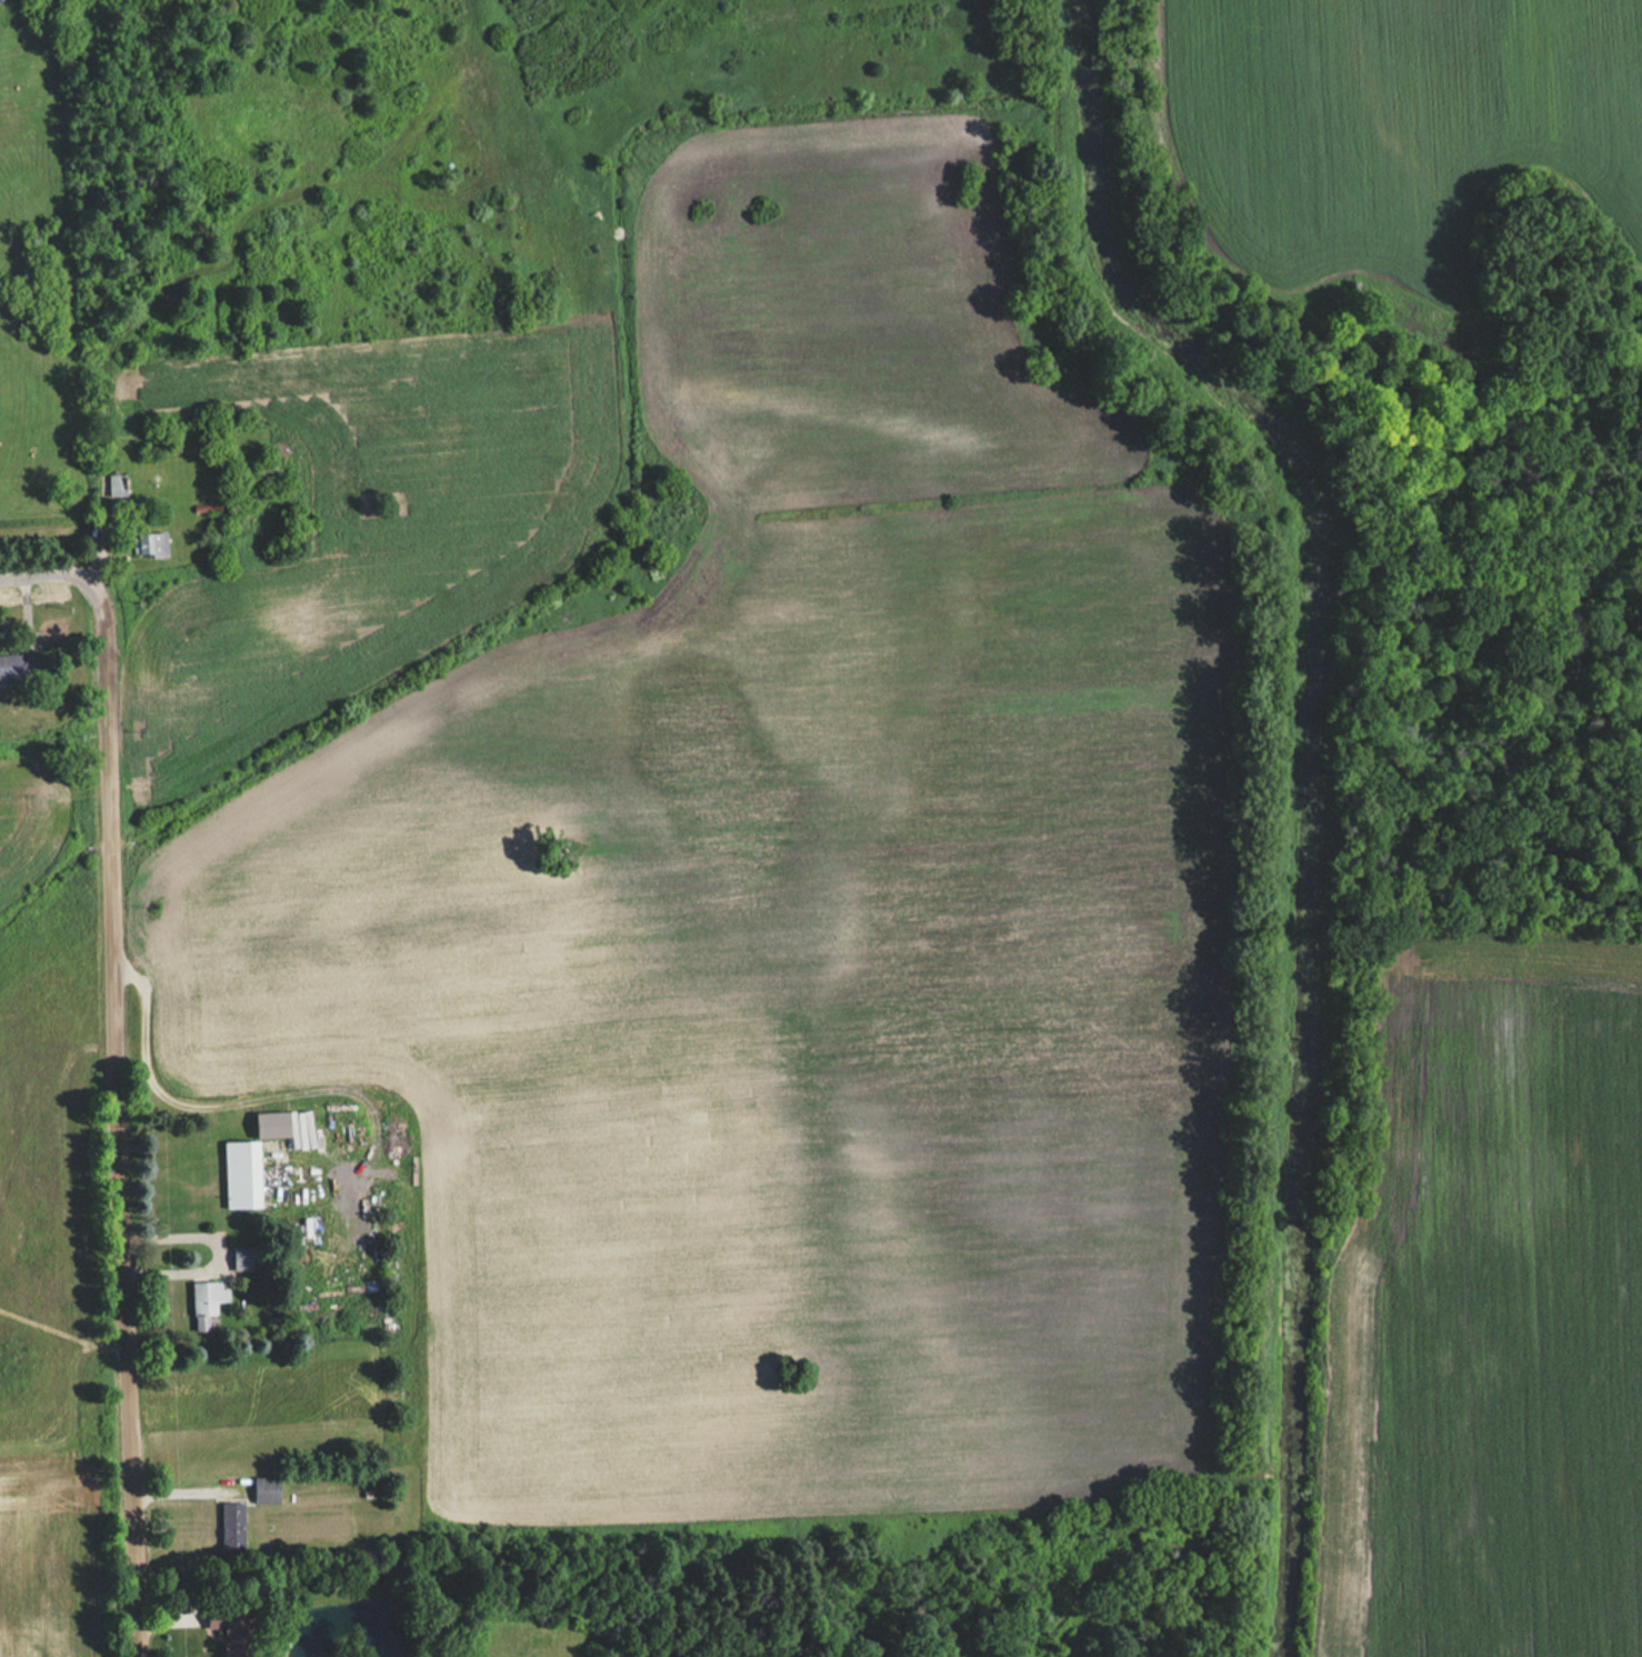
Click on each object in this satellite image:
building: (116, 483)
building: (150, 545)
road: (50, 570)
building: (20, 665)
road: (229, 1101)
road: (123, 1116)
building: (241, 1174)
building: (241, 1258)
building: (206, 1301)
building: (266, 1489)
building: (231, 1526)
building: (234, 1629)

